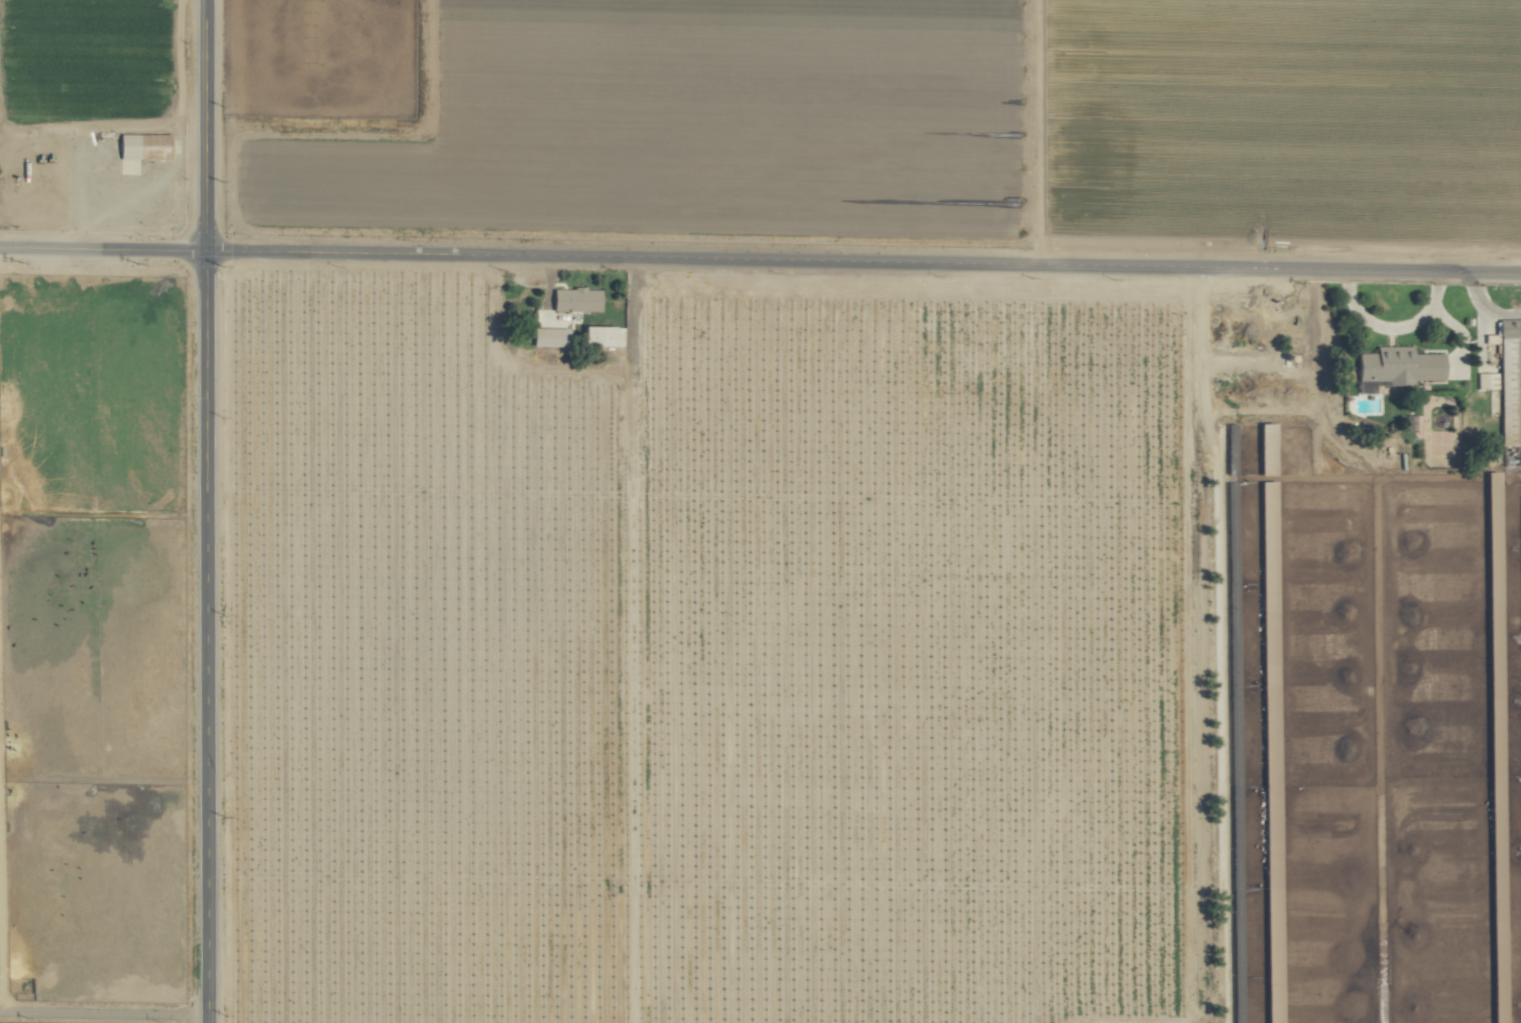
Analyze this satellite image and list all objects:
crop: (314, 71)
building: (142, 147)
road: (760, 262)
building: (574, 299)
road: (1391, 327)
road: (1458, 331)
building: (595, 335)
building: (547, 336)
building: (1398, 365)
road: (1317, 371)
building: (1507, 380)
road: (206, 511)
crop: (760, 511)
crop: (1357, 641)
crop: (1, 762)
road: (99, 1012)

